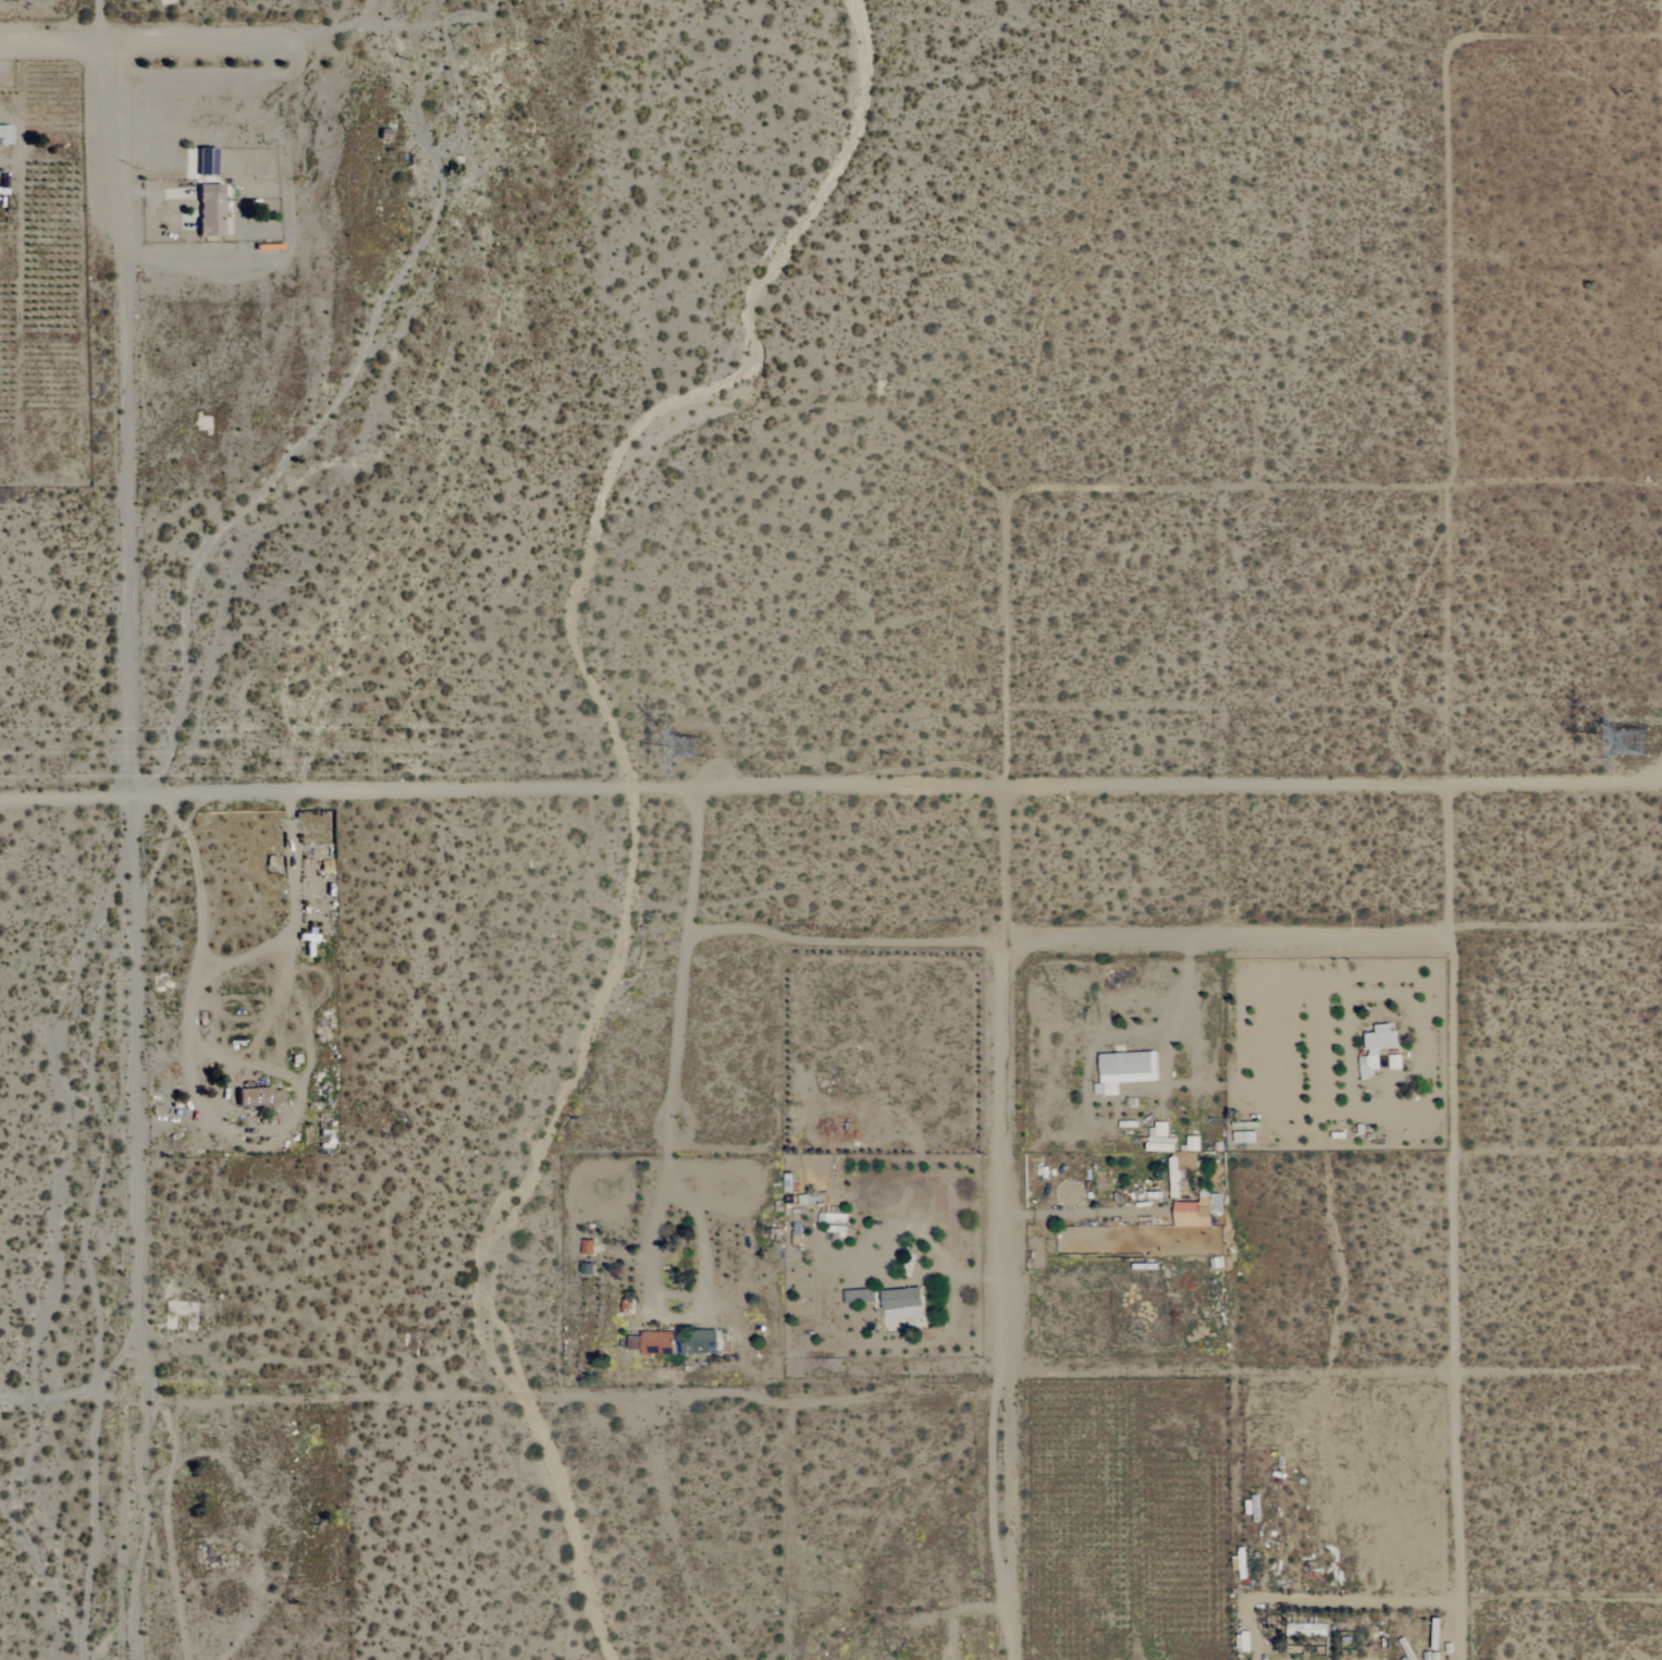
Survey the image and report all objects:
road: (99, 21)
road: (1558, 35)
road: (152, 42)
building: (210, 210)
power tower: (716, 749)
power tower: (1642, 749)
road: (830, 790)
road: (126, 851)
road: (1002, 940)
road: (842, 942)
road: (1294, 943)
road: (227, 962)
road: (1193, 1012)
building: (1377, 1048)
building: (1394, 1061)
building: (1129, 1067)
building: (1111, 1089)
building: (251, 1096)
road: (666, 1134)
building: (1173, 1154)
building: (1193, 1214)
building: (835, 1225)
building: (588, 1247)
road: (940, 1256)
building: (902, 1303)
building: (657, 1342)
road: (1442, 1374)
road: (73, 1395)
road: (1239, 1458)
road: (1010, 1520)
road: (960, 1610)
building: (1306, 1630)
building: (1244, 1641)

